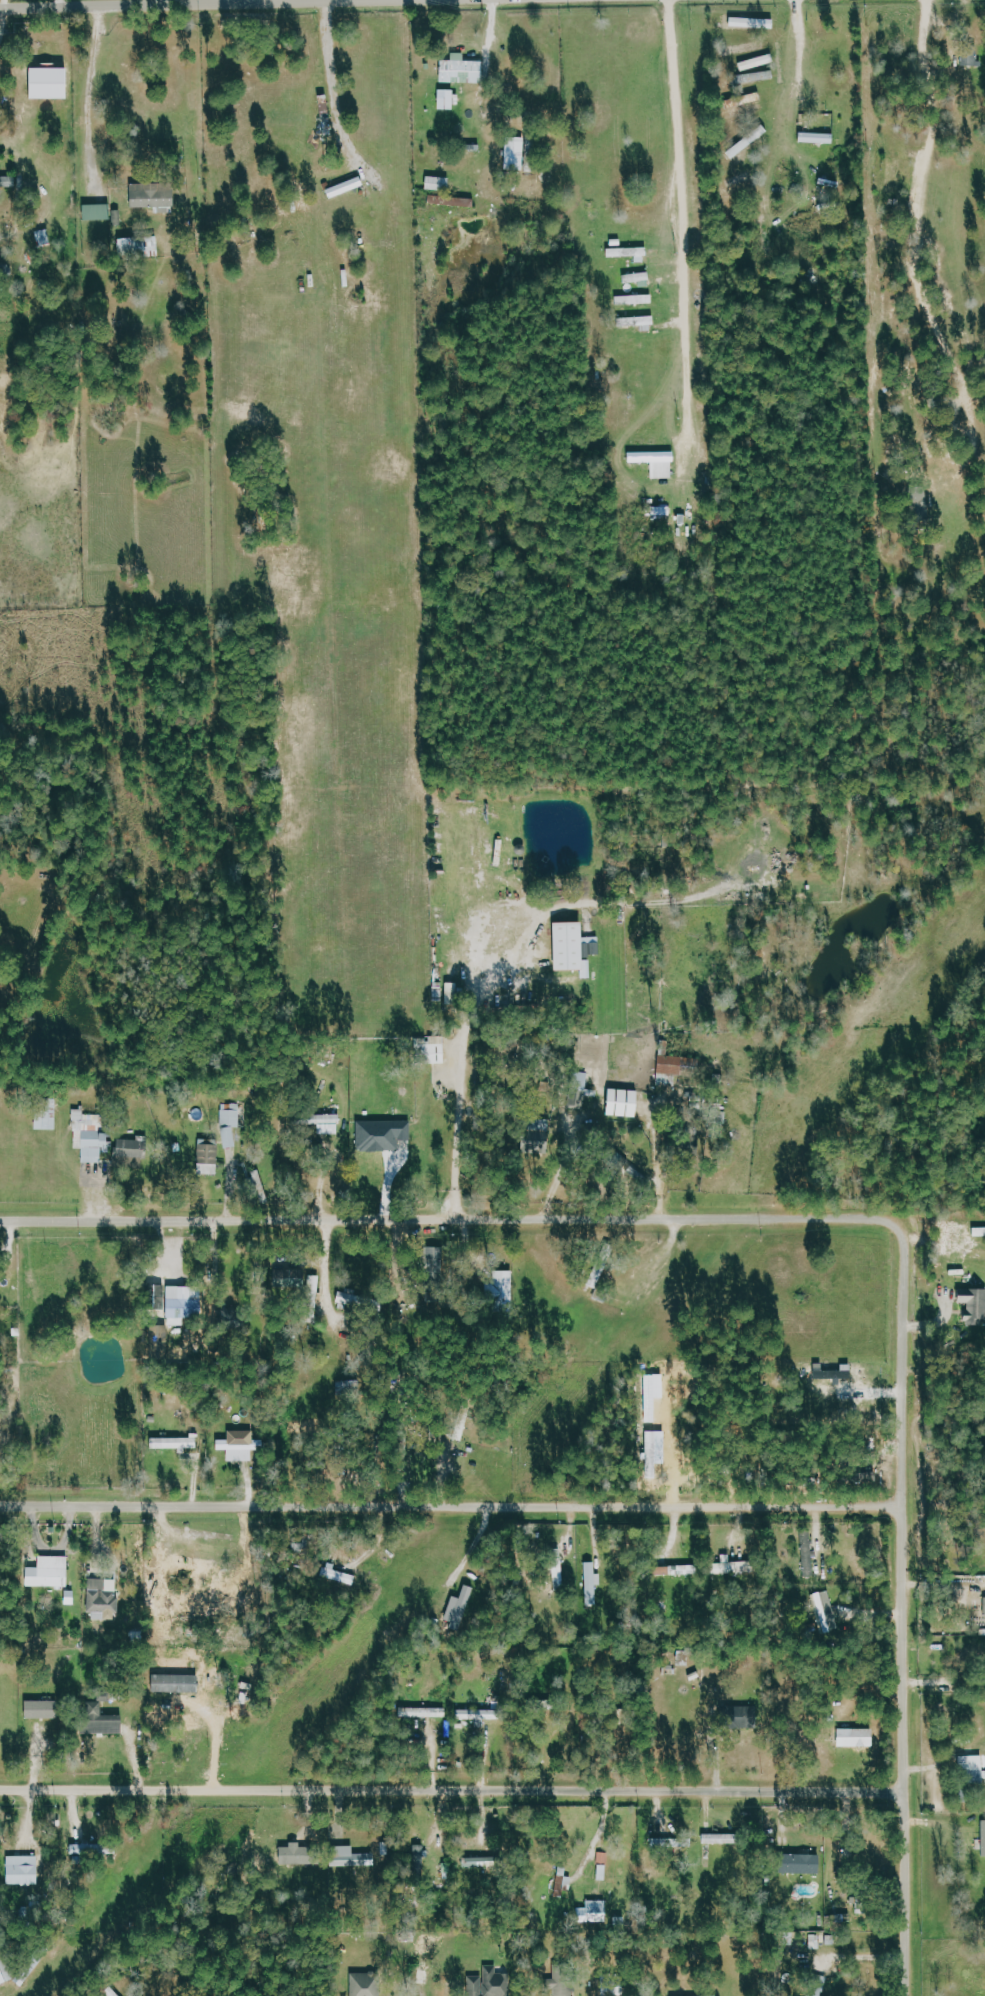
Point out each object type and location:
road: (234, 4)
building: (739, 24)
building: (745, 49)
road: (803, 50)
building: (973, 61)
building: (758, 62)
building: (464, 70)
building: (757, 78)
building: (54, 83)
road: (92, 95)
building: (448, 99)
building: (746, 102)
building: (328, 115)
building: (820, 138)
building: (775, 152)
building: (518, 154)
building: (440, 183)
building: (348, 187)
building: (155, 195)
building: (454, 201)
road: (924, 209)
building: (100, 212)
road: (692, 224)
building: (142, 247)
building: (632, 253)
building: (640, 279)
building: (637, 299)
building: (643, 322)
building: (659, 463)
building: (921, 497)
building: (663, 513)
building: (578, 949)
building: (454, 993)
building: (435, 1049)
building: (681, 1067)
building: (625, 1103)
building: (327, 1123)
building: (232, 1124)
road: (461, 1125)
building: (91, 1136)
building: (385, 1136)
building: (538, 1142)
building: (134, 1149)
building: (210, 1158)
building: (262, 1188)
road: (862, 1219)
road: (26, 1220)
road: (705, 1240)
road: (766, 1246)
building: (976, 1255)
building: (504, 1290)
building: (358, 1303)
building: (186, 1304)
building: (974, 1306)
building: (178, 1340)
building: (833, 1374)
building: (653, 1392)
building: (240, 1446)
building: (653, 1448)
road: (528, 1509)
road: (76, 1510)
building: (809, 1553)
building: (734, 1566)
building: (680, 1570)
building: (51, 1572)
building: (339, 1574)
building: (594, 1583)
building: (104, 1596)
building: (72, 1597)
building: (218, 1602)
building: (461, 1607)
building: (828, 1612)
building: (178, 1683)
building: (46, 1709)
building: (426, 1712)
building: (480, 1714)
building: (103, 1721)
building: (974, 1769)
road: (124, 1795)
road: (576, 1795)
building: (983, 1837)
building: (725, 1839)
building: (686, 1843)
building: (96, 1849)
building: (356, 1858)
building: (421, 1858)
building: (482, 1861)
building: (806, 1863)
building: (26, 1870)
building: (565, 1881)
building: (596, 1912)
building: (6, 1968)
building: (564, 1979)
building: (491, 1983)
building: (368, 1984)
building: (814, 1995)

